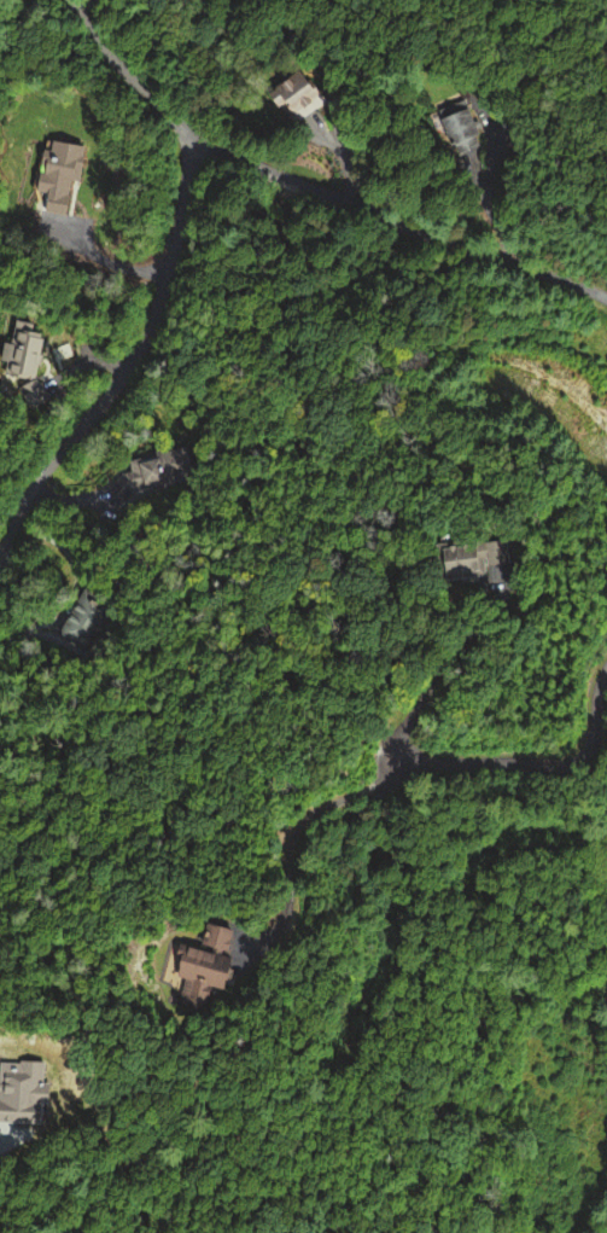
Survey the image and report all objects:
road: (78, 6)
building: (293, 95)
building: (457, 130)
road: (396, 221)
road: (165, 278)
building: (23, 362)
building: (465, 559)
road: (433, 679)
road: (526, 763)
road: (345, 838)
road: (290, 845)
building: (193, 962)

